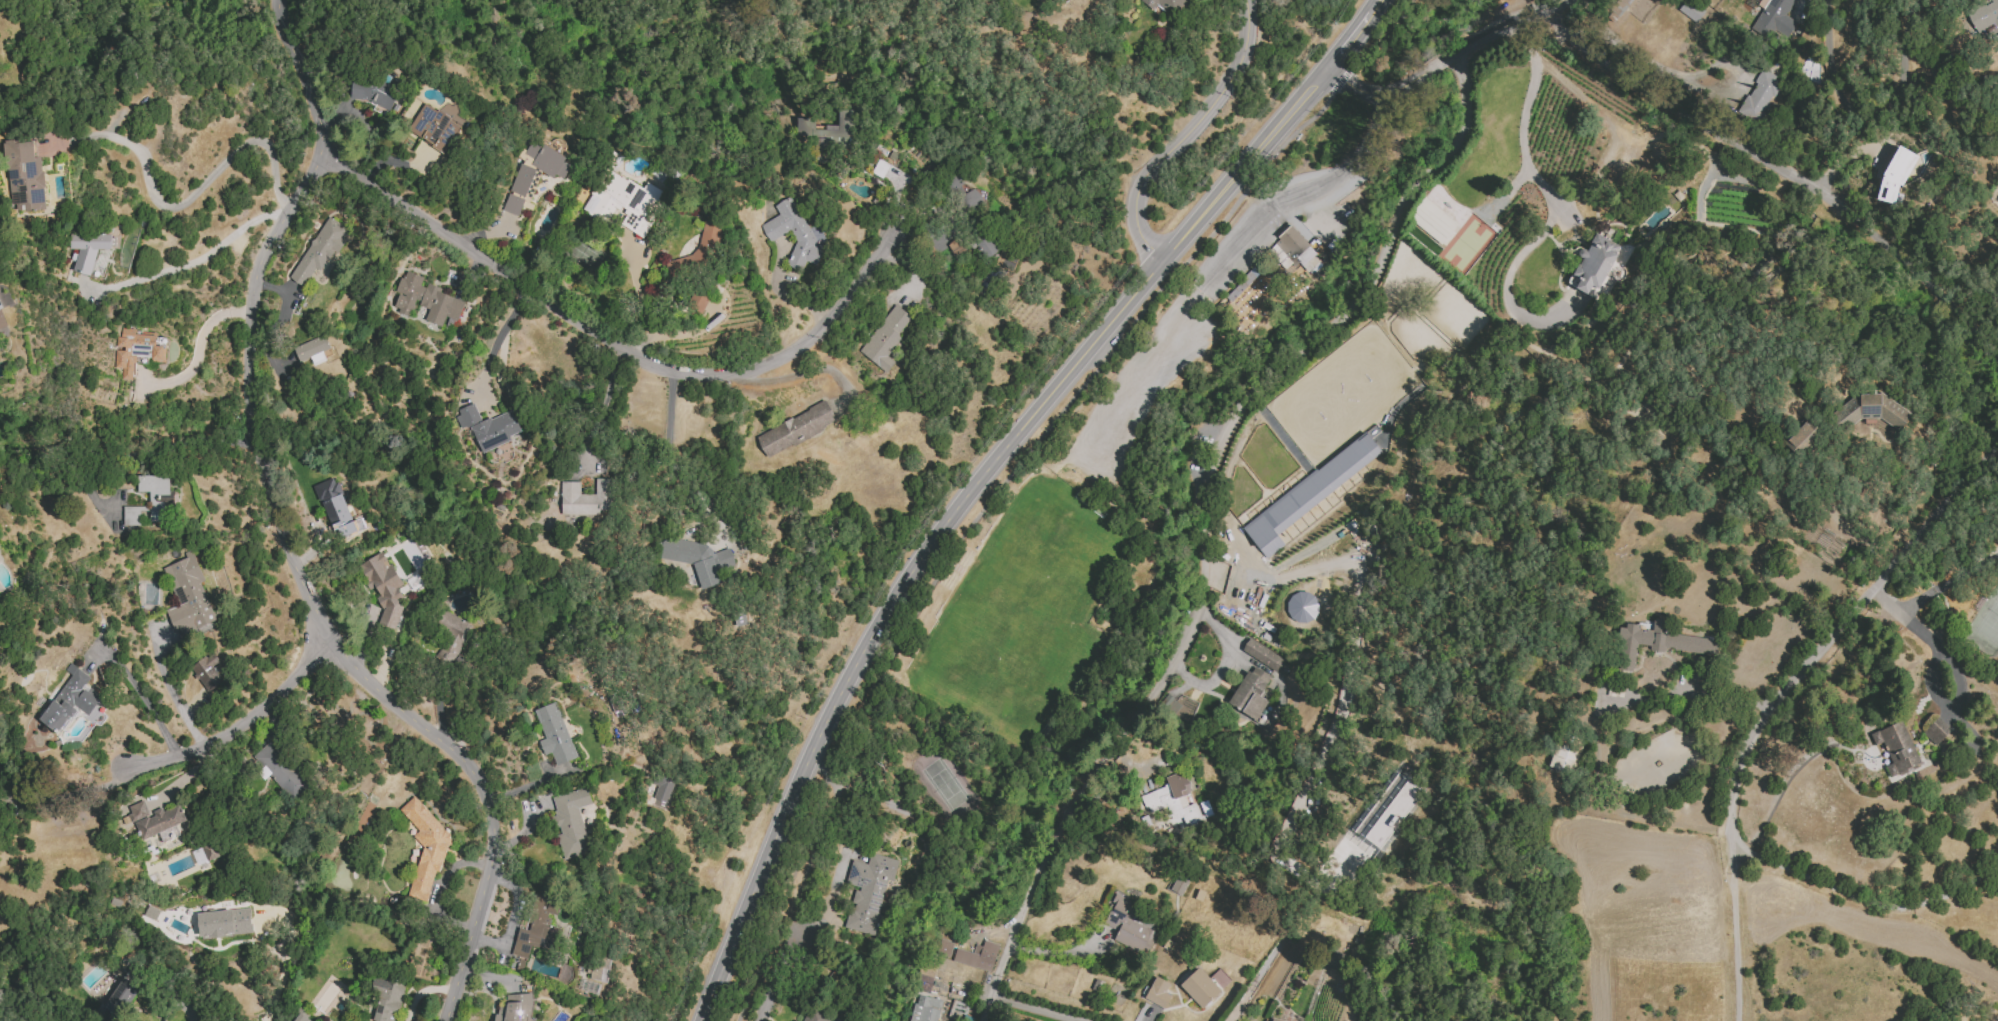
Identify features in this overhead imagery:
building: (1167, 4)
road: (1373, 9)
building: (1691, 10)
building: (1986, 20)
building: (1774, 21)
road: (1507, 25)
road: (1380, 43)
road: (1347, 44)
road: (1659, 49)
road: (1448, 56)
road: (1430, 68)
building: (372, 93)
building: (1759, 93)
road: (1373, 94)
road: (1868, 114)
road: (1524, 118)
building: (434, 128)
building: (828, 134)
road: (1186, 134)
building: (546, 160)
building: (1894, 174)
building: (24, 175)
building: (890, 175)
road: (1774, 175)
building: (519, 189)
road: (194, 194)
building: (964, 194)
building: (624, 201)
building: (1432, 220)
building: (792, 234)
building: (984, 245)
building: (1293, 246)
building: (320, 249)
building: (87, 250)
road: (1230, 257)
building: (1593, 264)
road: (193, 265)
park: (1405, 279)
road: (1506, 290)
building: (426, 299)
road: (641, 301)
building: (698, 303)
parking lot: (1208, 308)
park: (1454, 314)
building: (2, 320)
park: (1418, 337)
building: (885, 338)
road: (500, 339)
road: (605, 345)
road: (195, 349)
building: (312, 350)
building: (135, 351)
park: (1343, 393)
road: (604, 404)
building: (1869, 414)
building: (488, 427)
building: (795, 429)
road: (132, 436)
building: (1802, 438)
road: (682, 458)
building: (1308, 494)
building: (586, 498)
building: (152, 500)
building: (334, 508)
road: (956, 510)
road: (984, 515)
road: (1202, 516)
road: (282, 539)
building: (695, 553)
road: (1286, 575)
road: (1947, 583)
building: (383, 586)
building: (188, 596)
park: (1025, 604)
park: (1986, 631)
building: (451, 636)
road: (1829, 639)
building: (1661, 645)
building: (1262, 655)
road: (1946, 659)
building: (207, 672)
road: (1931, 683)
road: (138, 691)
road: (1066, 691)
road: (1692, 692)
road: (172, 696)
building: (1252, 697)
building: (73, 702)
building: (1178, 708)
road: (237, 726)
building: (1939, 733)
building: (554, 734)
building: (1898, 751)
building: (281, 769)
park: (944, 783)
building: (662, 788)
road: (1778, 788)
road: (66, 796)
building: (1173, 802)
building: (1205, 808)
building: (1387, 811)
building: (154, 819)
building: (571, 821)
building: (425, 848)
building: (206, 853)
building: (1179, 884)
building: (869, 893)
road: (1863, 900)
building: (151, 913)
building: (224, 922)
building: (537, 926)
building: (1127, 926)
road: (1735, 947)
building: (945, 948)
road: (1058, 953)
building: (978, 956)
building: (600, 968)
road: (283, 972)
road: (778, 976)
building: (925, 978)
building: (1199, 988)
building: (123, 992)
building: (1157, 992)
road: (421, 993)
building: (386, 999)
building: (514, 1008)
building: (925, 1009)
road: (1033, 1009)
building: (815, 1013)
road: (1994, 1017)
building: (303, 1018)
building: (1274, 1020)

